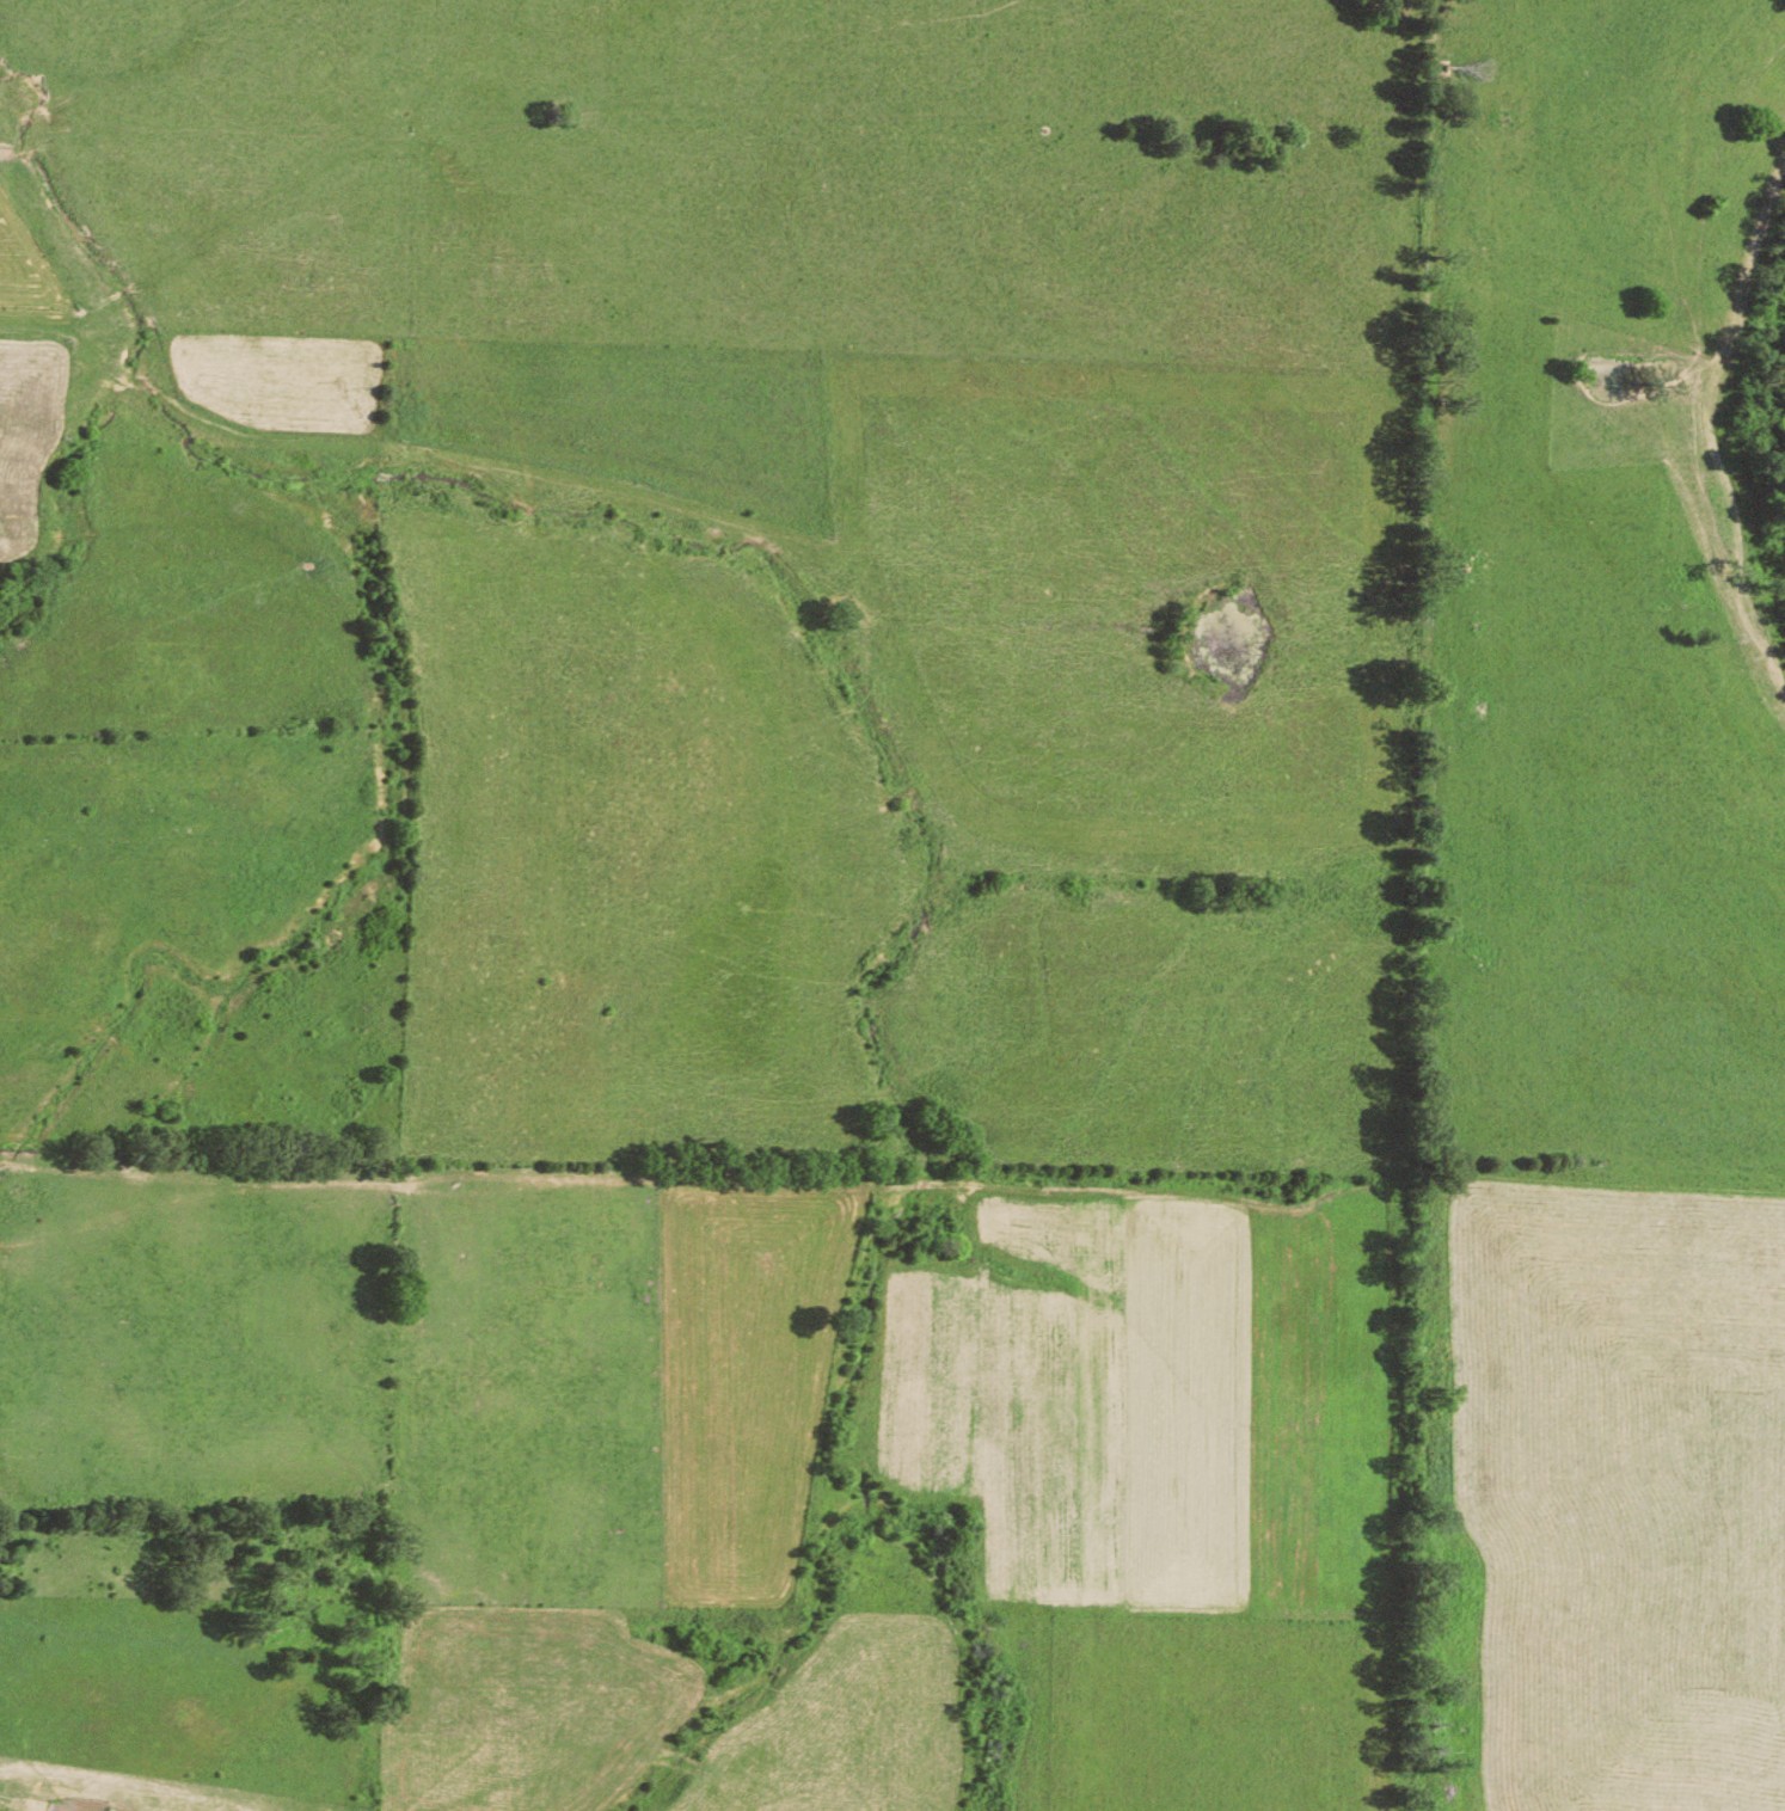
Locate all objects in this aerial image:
road: (1731, 528)

